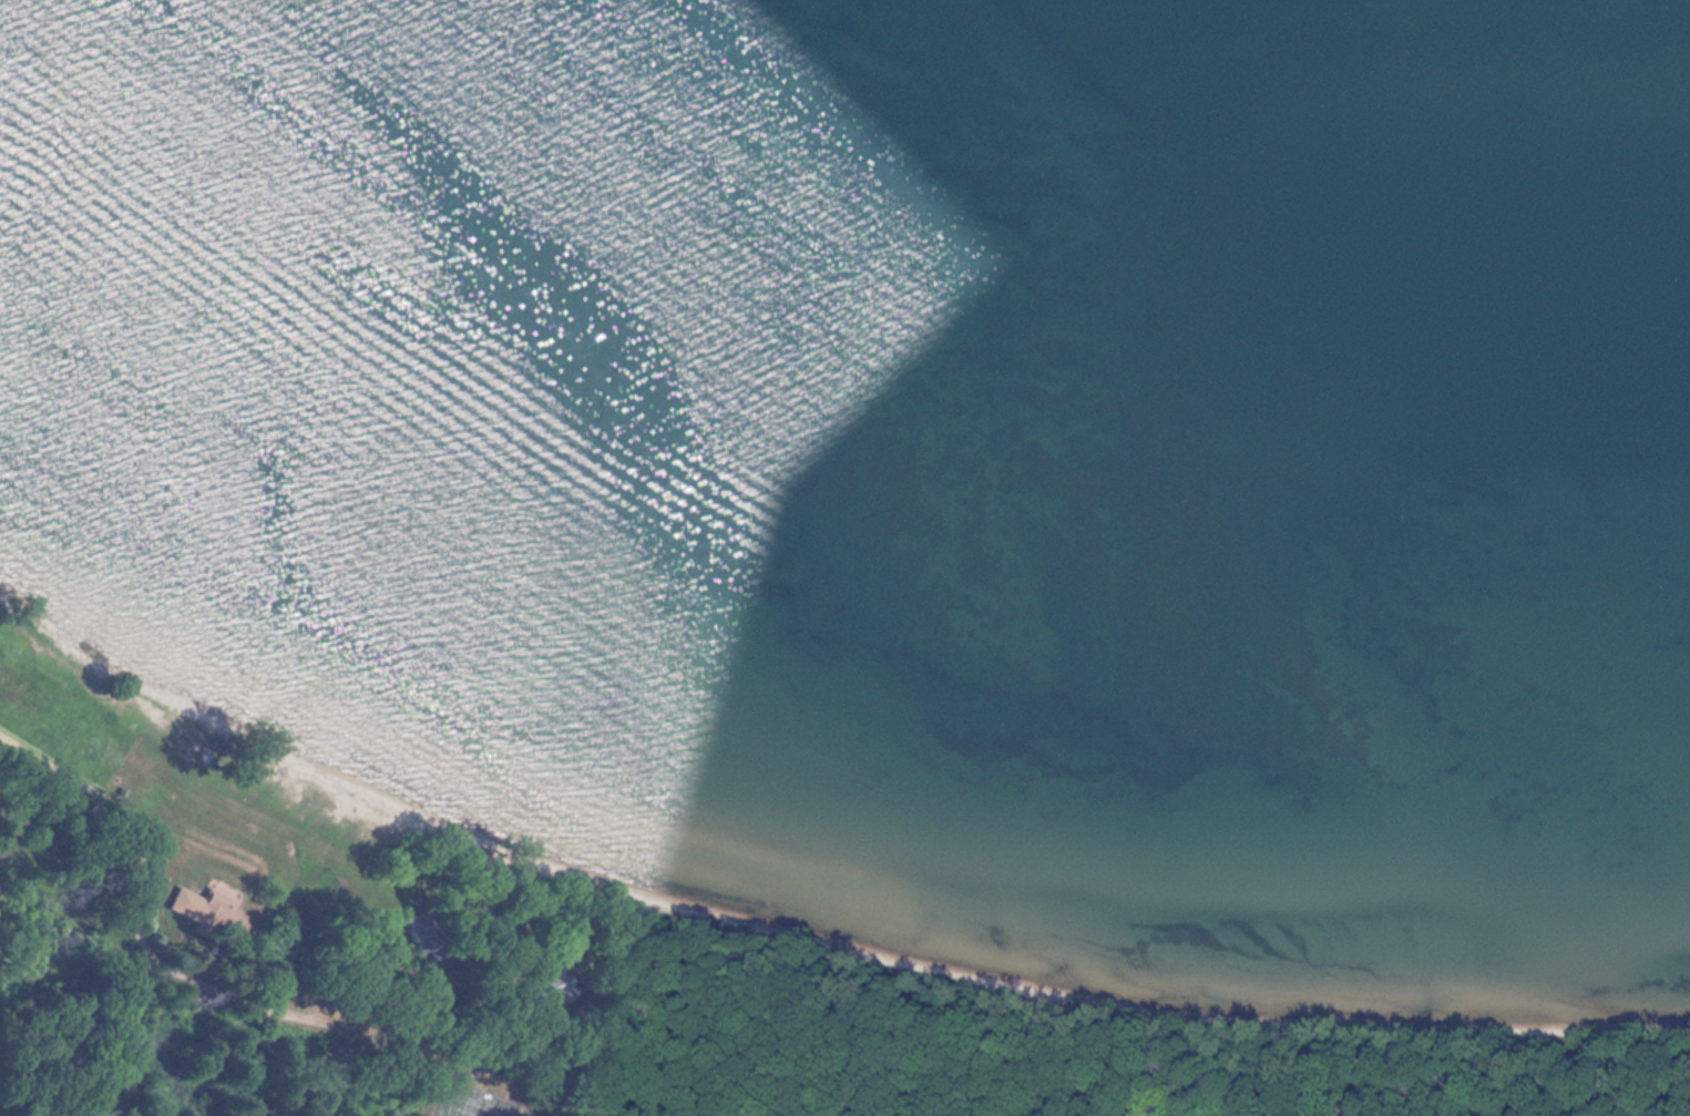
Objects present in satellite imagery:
building: (212, 913)
building: (426, 935)
building: (555, 985)
road: (206, 987)
park: (473, 1103)

